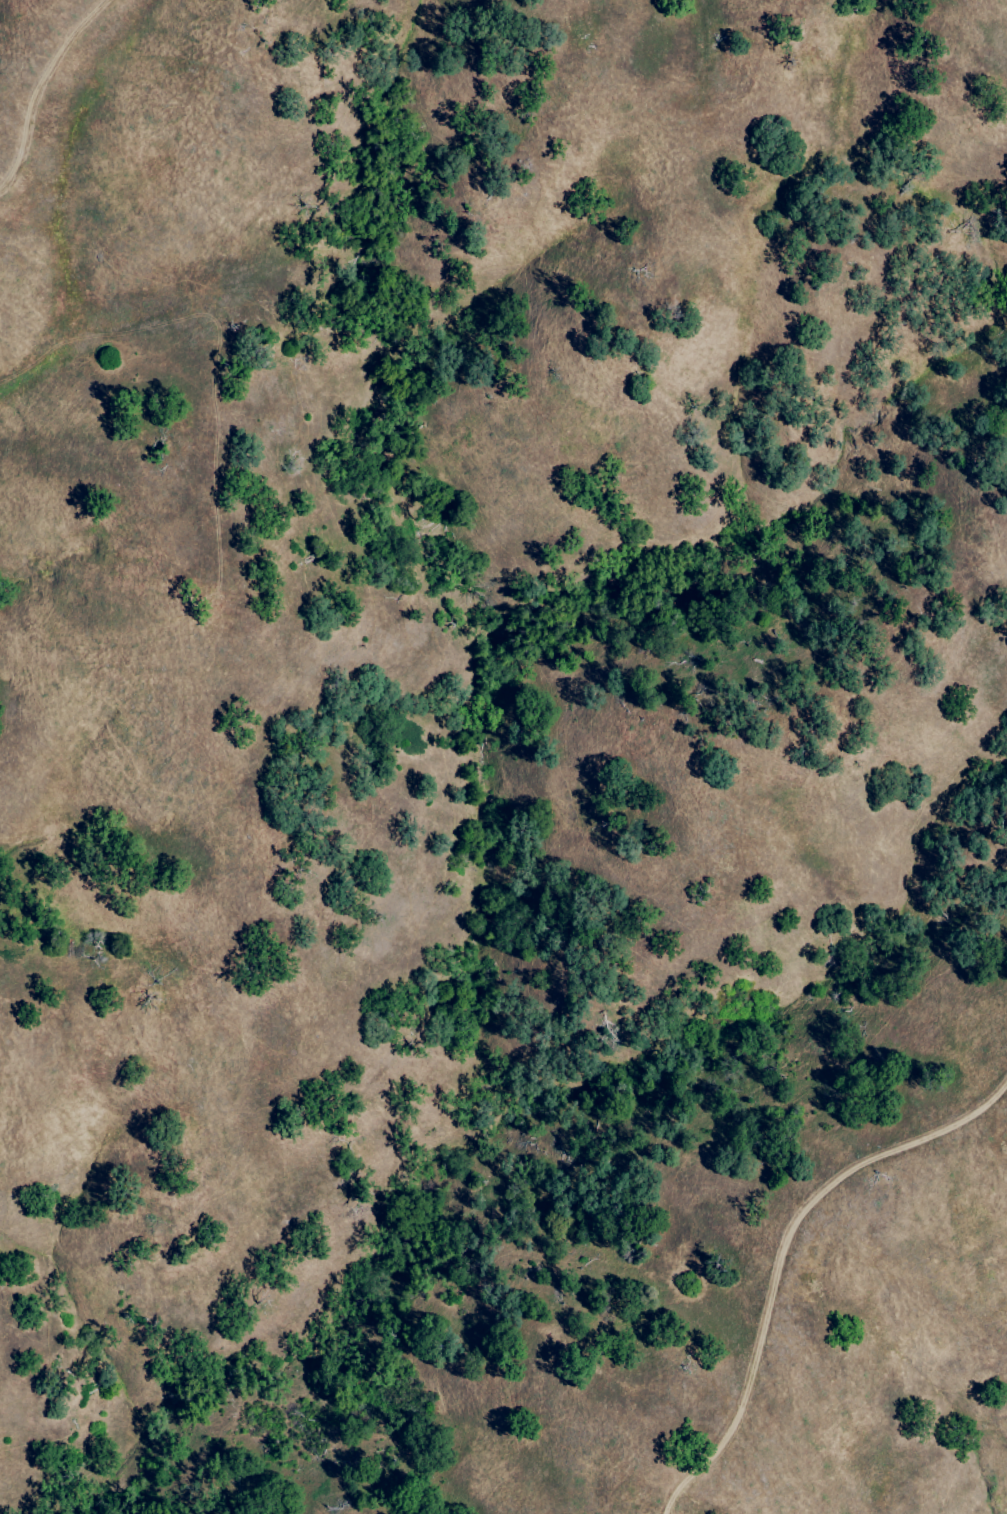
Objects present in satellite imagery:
road: (38, 83)
road: (782, 1254)

